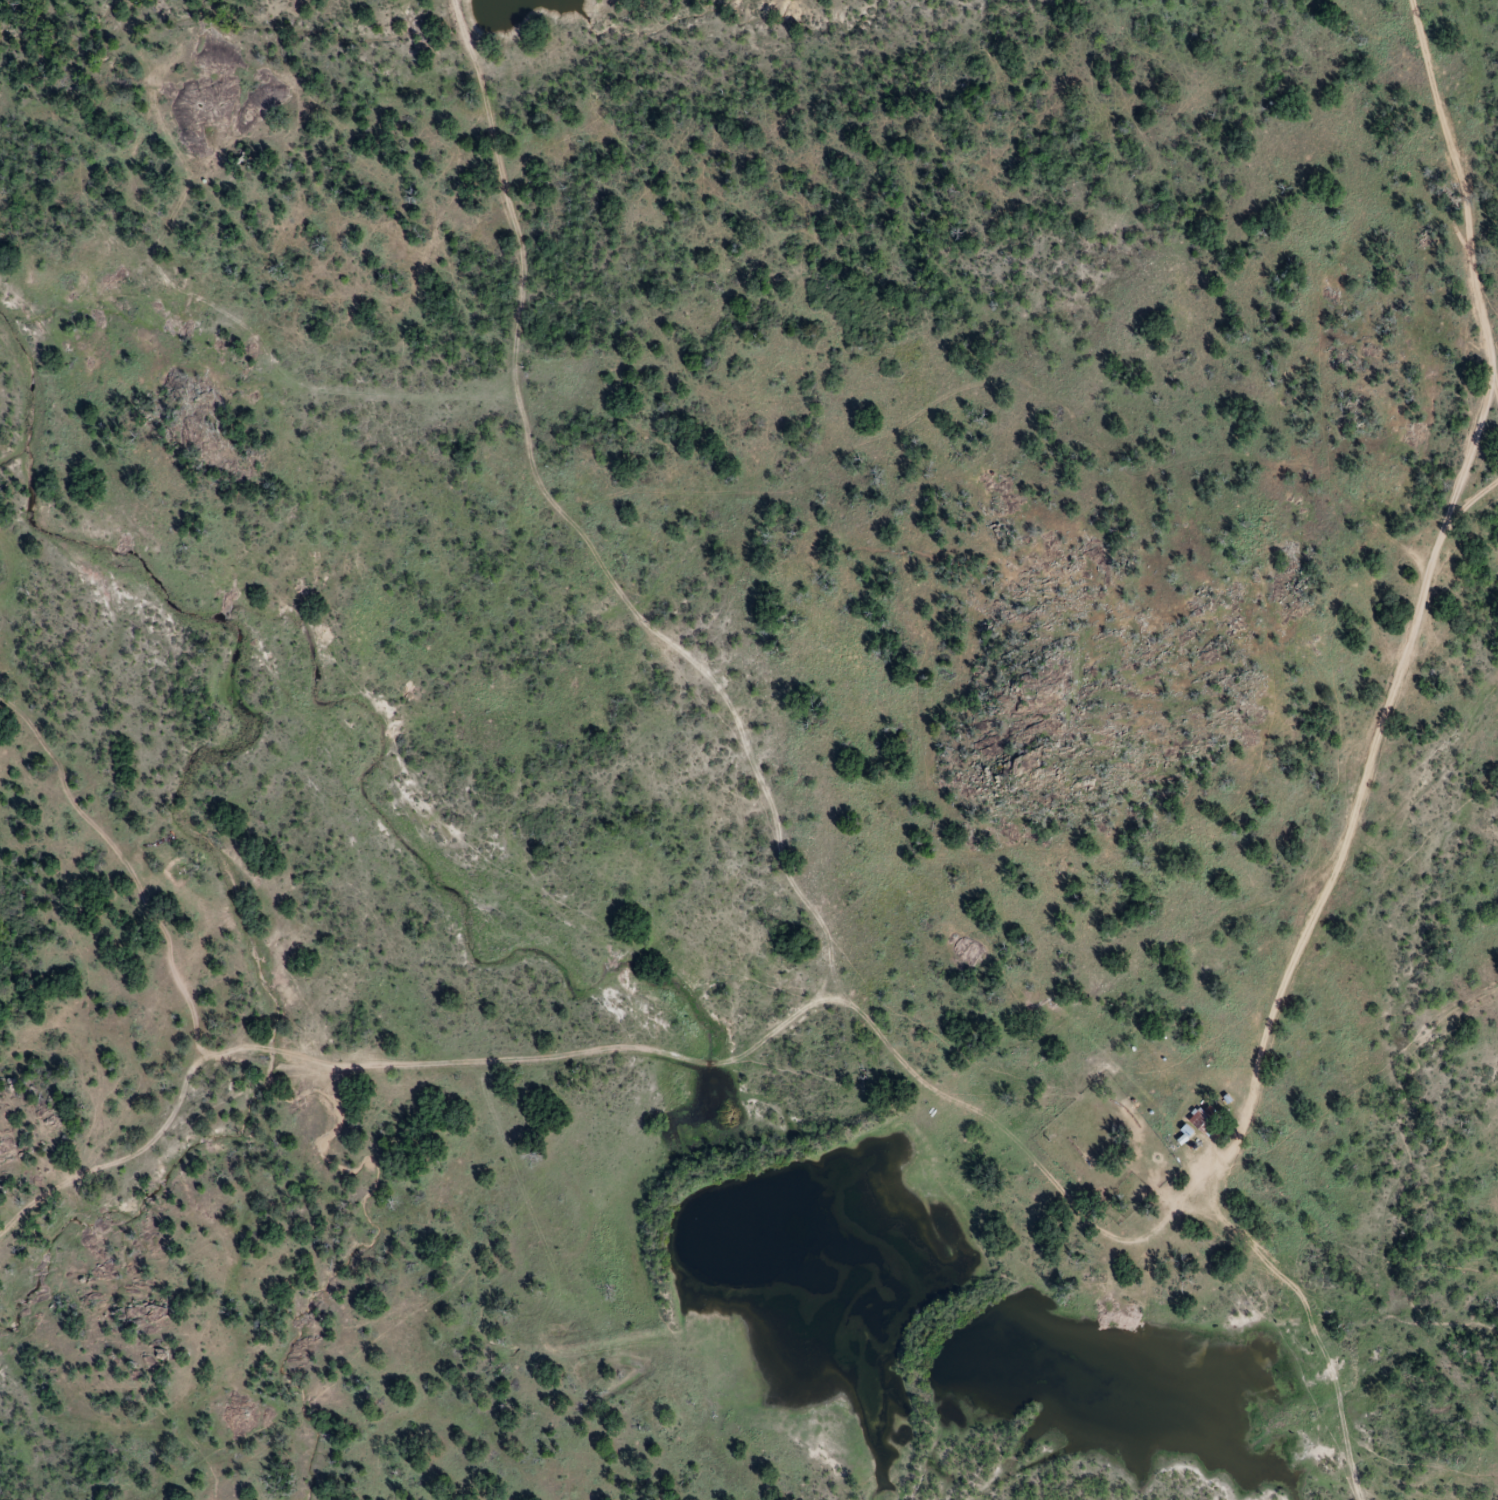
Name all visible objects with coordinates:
road: (1454, 185)
road: (1479, 420)
road: (886, 1055)
road: (394, 1062)
building: (1207, 1121)

